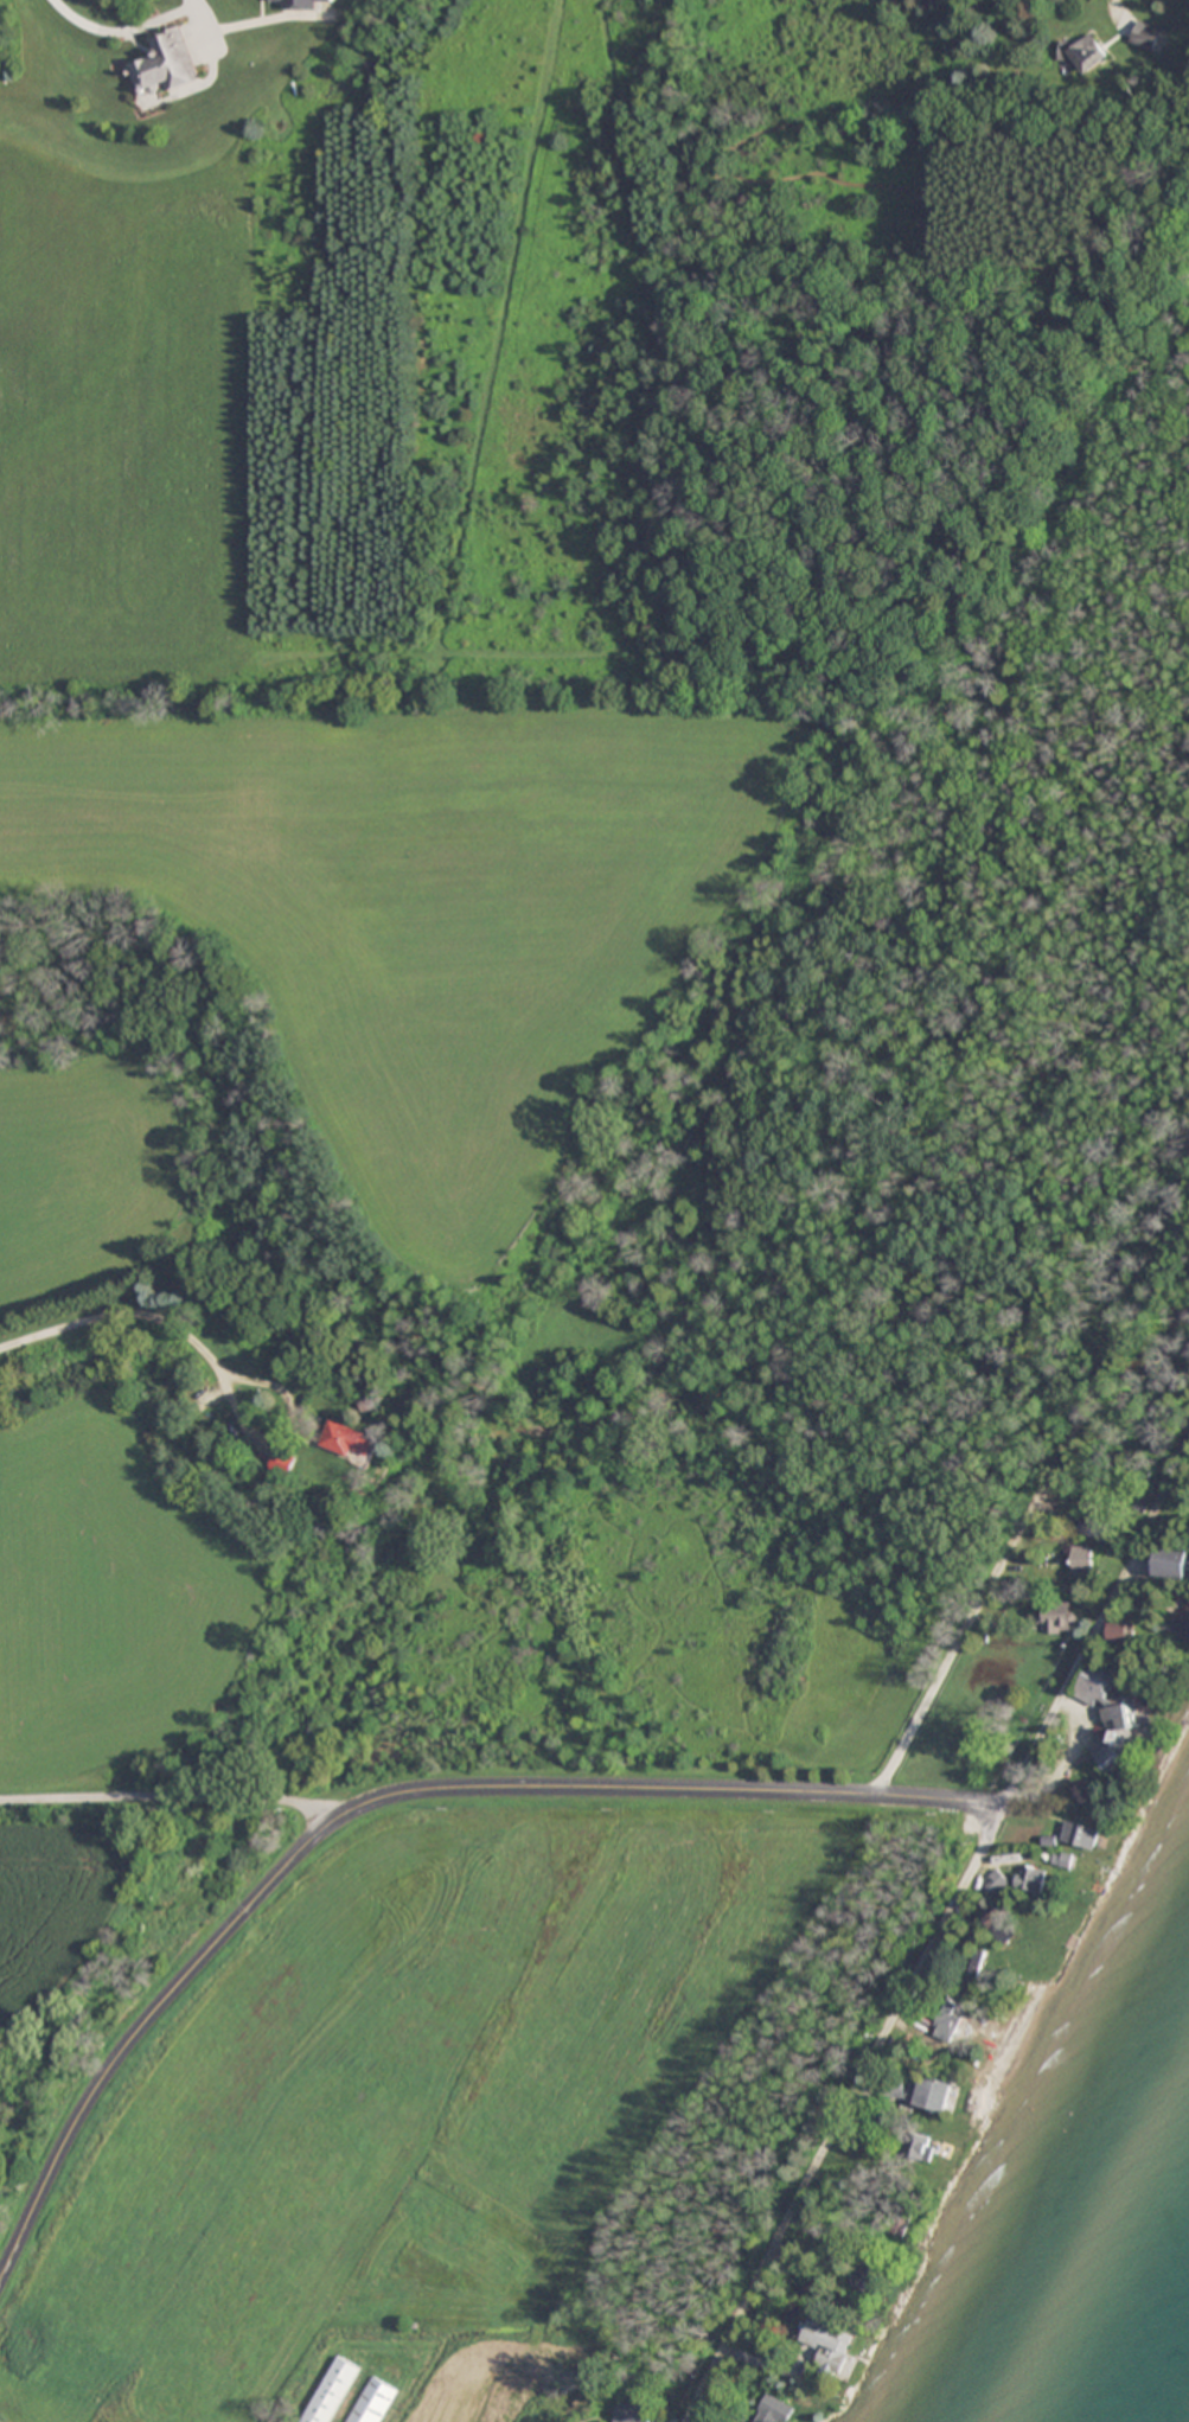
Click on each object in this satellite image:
building: (294, 1)
road: (121, 25)
building: (1148, 34)
building: (1087, 53)
building: (170, 63)
building: (349, 1437)
building: (285, 1462)
road: (1034, 1500)
building: (1106, 1522)
building: (1082, 1559)
building: (1174, 1561)
building: (1061, 1616)
building: (1120, 1631)
building: (1097, 1687)
road: (383, 1792)
building: (1082, 1835)
building: (1031, 1879)
building: (1003, 1925)
road: (942, 1928)
building: (976, 1960)
building: (894, 2084)
building: (937, 2091)
building: (923, 2146)
building: (867, 2280)
building: (830, 2346)
building: (328, 2389)
building: (774, 2410)

